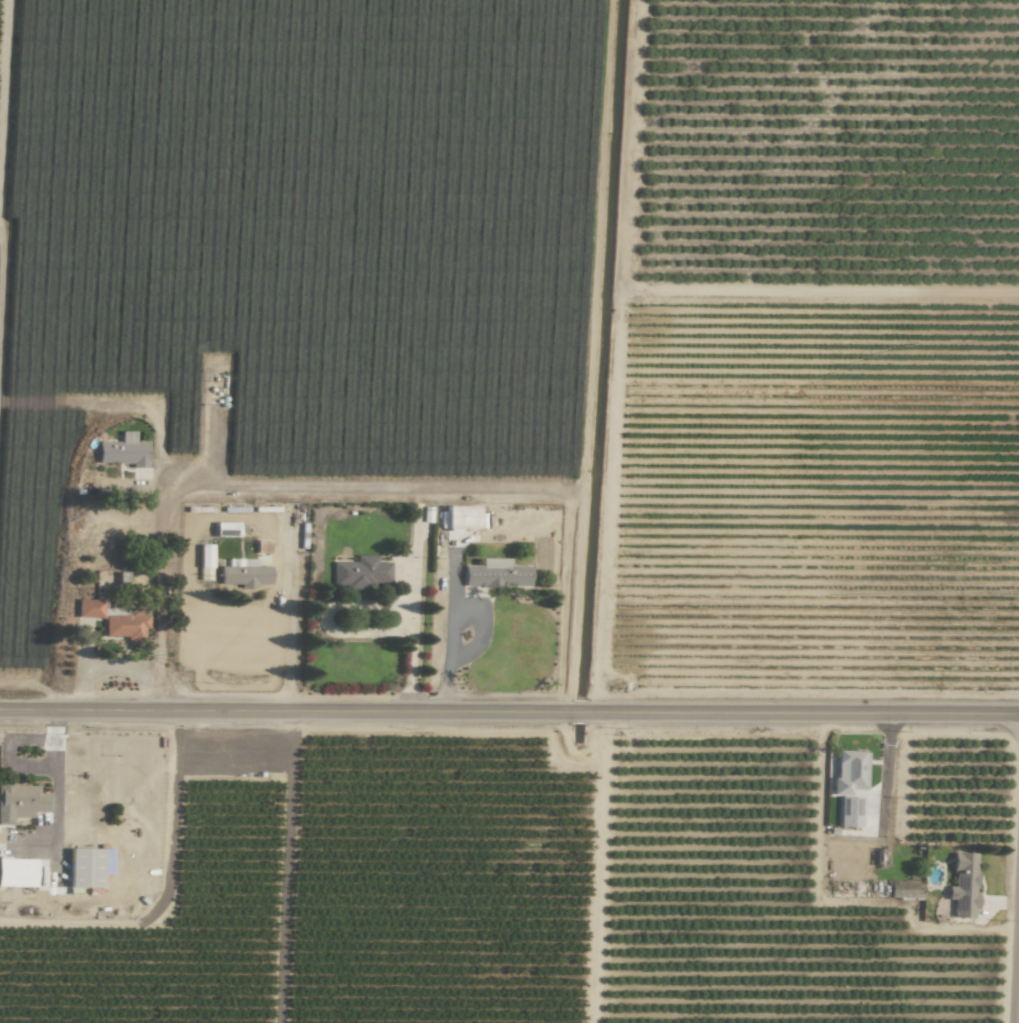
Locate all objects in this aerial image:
road: (2, 279)
road: (589, 356)
road: (98, 401)
building: (125, 451)
road: (369, 488)
building: (465, 517)
building: (205, 562)
building: (246, 573)
building: (363, 573)
building: (498, 574)
road: (160, 579)
road: (366, 605)
building: (115, 621)
road: (290, 623)
road: (446, 656)
road: (509, 713)
building: (851, 772)
building: (22, 801)
building: (87, 868)
building: (18, 873)
building: (965, 886)
road: (1015, 917)

